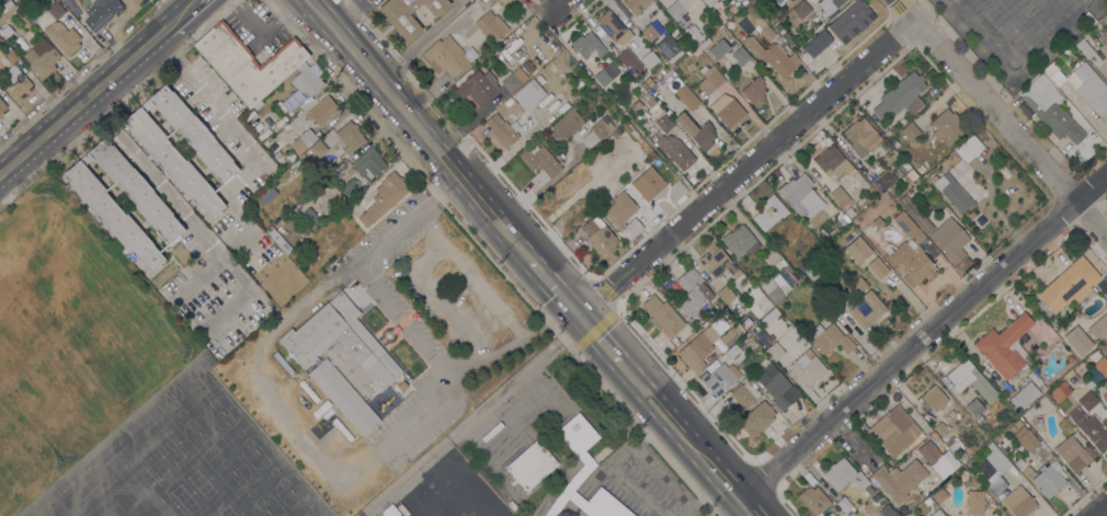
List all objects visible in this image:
building: (14, 0)
building: (491, 1)
building: (505, 1)
building: (708, 2)
building: (754, 2)
building: (9, 5)
building: (636, 5)
building: (830, 7)
building: (55, 10)
building: (801, 10)
road: (910, 10)
road: (553, 11)
building: (680, 11)
building: (101, 12)
road: (346, 12)
building: (409, 14)
building: (1106, 16)
building: (851, 19)
building: (491, 26)
building: (777, 27)
building: (614, 28)
building: (4, 30)
building: (651, 31)
building: (764, 31)
road: (266, 33)
building: (691, 33)
building: (785, 36)
building: (62, 37)
building: (1102, 38)
road: (419, 39)
building: (817, 43)
building: (587, 46)
building: (667, 46)
building: (700, 46)
building: (610, 47)
building: (733, 47)
building: (717, 48)
building: (1084, 48)
road: (171, 50)
building: (11, 56)
building: (626, 57)
building: (772, 57)
building: (42, 58)
building: (448, 59)
building: (650, 59)
building: (678, 59)
building: (248, 64)
building: (811, 67)
building: (1053, 73)
building: (606, 74)
building: (710, 78)
building: (307, 80)
building: (514, 80)
building: (16, 81)
building: (647, 82)
road: (99, 87)
building: (476, 87)
building: (1089, 89)
building: (754, 90)
building: (527, 94)
building: (686, 96)
building: (901, 96)
building: (650, 101)
building: (637, 104)
building: (146, 105)
building: (258, 105)
building: (1, 107)
building: (1049, 110)
building: (322, 111)
building: (728, 111)
building: (661, 119)
building: (902, 121)
road: (1013, 125)
building: (566, 126)
building: (947, 127)
road: (418, 129)
road: (236, 130)
building: (501, 130)
building: (596, 131)
building: (696, 131)
building: (911, 133)
building: (193, 134)
building: (887, 134)
building: (350, 137)
building: (861, 137)
building: (303, 141)
building: (894, 142)
building: (318, 149)
building: (673, 149)
building: (969, 149)
building: (85, 158)
building: (279, 160)
building: (173, 162)
building: (539, 163)
building: (833, 163)
building: (368, 164)
building: (903, 168)
road: (749, 169)
building: (921, 169)
building: (631, 171)
building: (910, 176)
building: (883, 181)
building: (351, 188)
building: (136, 190)
building: (952, 192)
building: (266, 194)
building: (800, 194)
building: (840, 196)
building: (384, 197)
road: (171, 200)
building: (769, 213)
building: (849, 213)
building: (621, 214)
building: (112, 215)
building: (915, 215)
building: (308, 217)
building: (877, 223)
building: (274, 236)
building: (598, 236)
building: (950, 240)
building: (741, 242)
building: (910, 252)
building: (866, 256)
building: (719, 264)
building: (962, 265)
building: (813, 268)
building: (1106, 279)
building: (857, 285)
building: (1069, 285)
building: (775, 286)
road: (553, 288)
building: (689, 293)
building: (728, 297)
building: (737, 310)
building: (867, 310)
building: (771, 311)
building: (724, 312)
building: (662, 314)
building: (825, 319)
road: (403, 321)
building: (1102, 328)
building: (732, 334)
road: (596, 339)
building: (830, 339)
road: (925, 340)
building: (340, 341)
building: (751, 343)
building: (1071, 345)
building: (1005, 346)
building: (1104, 347)
building: (698, 348)
building: (775, 351)
building: (804, 366)
building: (1102, 366)
road: (521, 377)
building: (719, 377)
building: (1071, 377)
building: (1034, 378)
building: (1093, 378)
building: (970, 380)
building: (777, 387)
building: (744, 394)
building: (1024, 395)
building: (343, 397)
building: (1105, 397)
building: (1084, 398)
building: (934, 399)
building: (975, 410)
road: (663, 412)
building: (756, 418)
building: (1017, 423)
building: (940, 428)
building: (1011, 428)
building: (1091, 428)
building: (580, 432)
building: (894, 432)
building: (1026, 440)
building: (1074, 452)
building: (938, 459)
building: (1019, 462)
building: (530, 465)
road: (612, 465)
building: (993, 469)
building: (1028, 472)
building: (844, 474)
building: (809, 479)
building: (1048, 479)
building: (574, 480)
building: (899, 480)
building: (937, 481)
road: (727, 483)
building: (471, 484)
building: (939, 495)
building: (452, 496)
road: (703, 498)
building: (813, 500)
building: (927, 501)
building: (415, 502)
building: (974, 502)
building: (1018, 502)
building: (606, 504)
building: (844, 505)
building: (990, 506)
road: (749, 508)
building: (390, 511)
building: (887, 511)
road: (1100, 511)
building: (936, 513)
building: (831, 514)
building: (842, 515)

